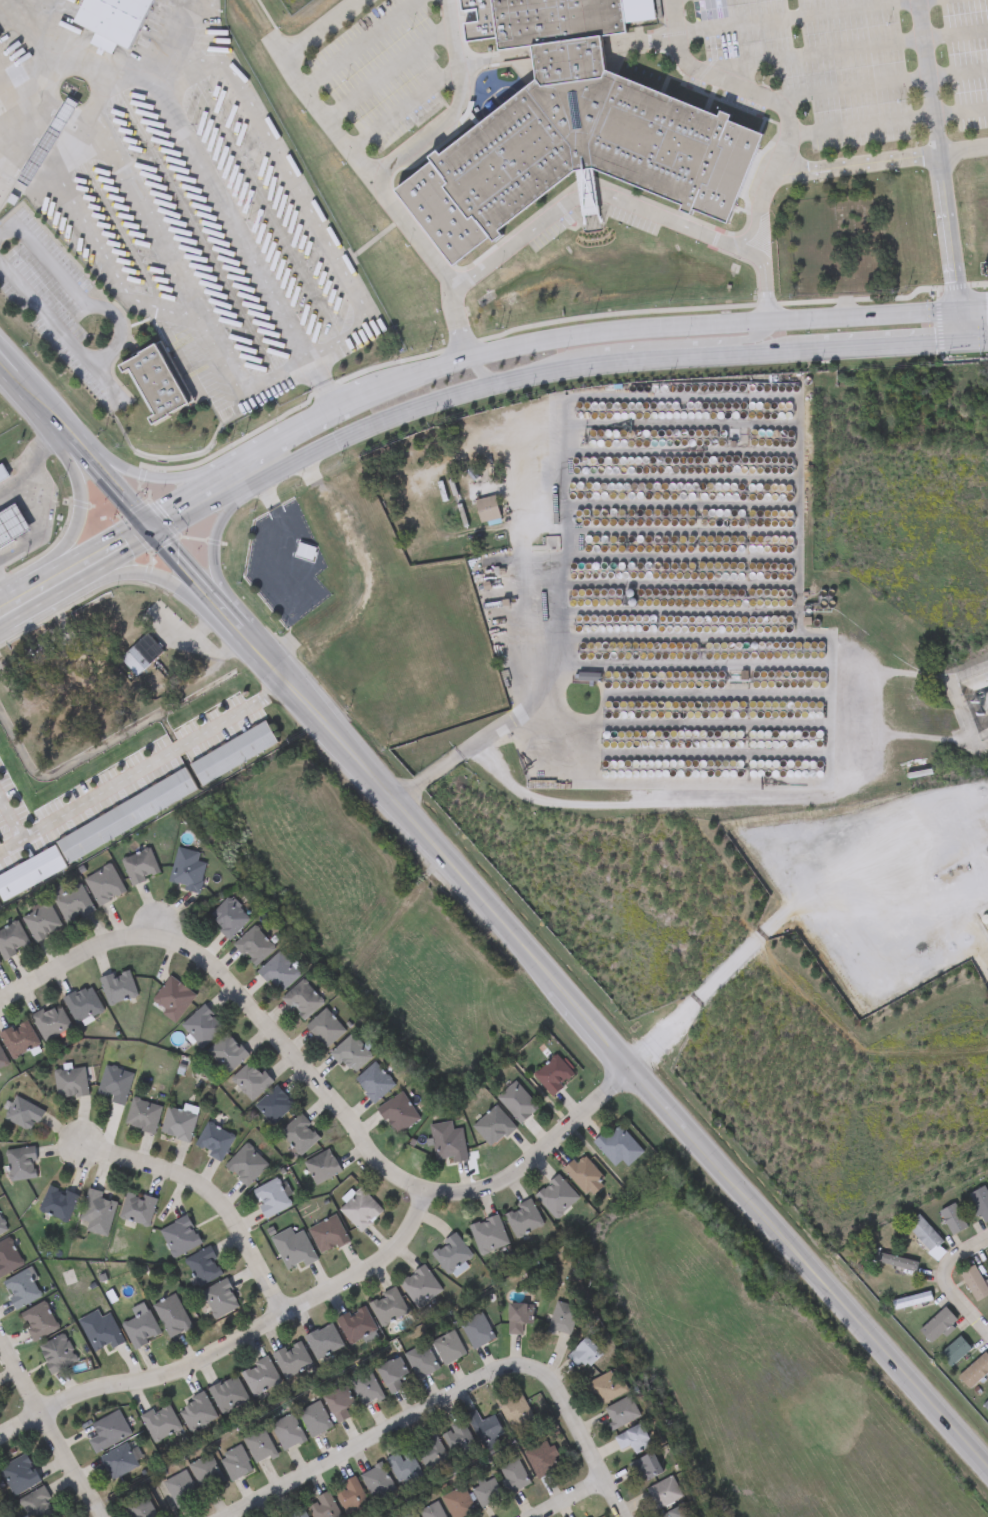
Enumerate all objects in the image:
road: (800, 15)
building: (112, 21)
road: (361, 44)
road: (844, 51)
building: (12, 66)
road: (387, 74)
road: (928, 75)
road: (734, 85)
road: (882, 85)
road: (452, 109)
road: (401, 110)
road: (887, 123)
building: (568, 128)
building: (48, 138)
road: (838, 161)
road: (355, 164)
road: (209, 177)
road: (598, 195)
road: (142, 209)
road: (949, 243)
park: (835, 244)
road: (766, 284)
traffic signals: (957, 302)
road: (726, 317)
road: (124, 337)
road: (974, 337)
traffic signals: (960, 338)
road: (751, 339)
road: (879, 341)
road: (758, 348)
road: (647, 356)
road: (289, 370)
road: (478, 370)
road: (314, 372)
road: (532, 375)
building: (154, 382)
road: (400, 384)
road: (327, 399)
road: (374, 423)
road: (294, 437)
road: (35, 468)
building: (3, 474)
road: (157, 474)
road: (213, 499)
building: (486, 509)
road: (75, 520)
building: (12, 528)
gas station: (12, 528)
road: (42, 529)
traffic signals: (160, 530)
road: (229, 540)
building: (305, 552)
road: (80, 575)
road: (158, 575)
road: (800, 604)
road: (4, 607)
building: (141, 655)
road: (526, 708)
building: (983, 725)
building: (233, 754)
road: (136, 771)
building: (140, 867)
building: (186, 870)
building: (104, 885)
building: (72, 903)
road: (788, 907)
road: (497, 910)
building: (229, 918)
building: (42, 923)
building: (12, 941)
building: (254, 946)
building: (278, 973)
building: (118, 988)
building: (173, 999)
building: (302, 1000)
building: (82, 1004)
building: (51, 1022)
building: (202, 1027)
building: (325, 1029)
building: (19, 1040)
building: (227, 1053)
building: (351, 1055)
building: (2, 1061)
building: (553, 1075)
building: (251, 1080)
building: (70, 1083)
building: (374, 1083)
building: (115, 1085)
road: (326, 1087)
building: (517, 1103)
building: (274, 1105)
building: (398, 1113)
building: (23, 1114)
building: (143, 1116)
building: (178, 1124)
building: (493, 1127)
building: (300, 1135)
building: (214, 1141)
building: (448, 1142)
building: (618, 1147)
building: (21, 1164)
building: (247, 1165)
building: (322, 1167)
building: (583, 1174)
road: (219, 1195)
building: (556, 1197)
building: (272, 1198)
building: (981, 1203)
building: (58, 1204)
building: (138, 1209)
building: (360, 1210)
building: (97, 1213)
building: (523, 1219)
building: (953, 1220)
building: (924, 1233)
building: (328, 1235)
building: (488, 1236)
building: (180, 1237)
building: (293, 1249)
road: (964, 1255)
building: (451, 1256)
building: (8, 1258)
building: (893, 1261)
building: (203, 1267)
building: (974, 1284)
building: (420, 1288)
building: (21, 1290)
building: (220, 1300)
building: (911, 1301)
building: (387, 1307)
road: (962, 1310)
building: (172, 1317)
building: (519, 1318)
building: (563, 1319)
building: (38, 1322)
building: (356, 1326)
building: (937, 1326)
building: (141, 1330)
building: (477, 1331)
building: (100, 1332)
building: (323, 1342)
road: (234, 1347)
building: (448, 1348)
building: (954, 1353)
building: (586, 1354)
building: (57, 1355)
building: (292, 1360)
building: (421, 1362)
building: (975, 1372)
building: (392, 1375)
building: (260, 1378)
building: (606, 1388)
building: (366, 1389)
building: (228, 1396)
building: (339, 1405)
building: (986, 1406)
building: (514, 1409)
building: (196, 1413)
building: (620, 1414)
building: (315, 1420)
building: (160, 1423)
road: (51, 1425)
building: (485, 1430)
building: (108, 1432)
building: (287, 1432)
road: (575, 1434)
road: (374, 1439)
building: (633, 1440)
building: (459, 1442)
building: (259, 1447)
building: (432, 1456)
building: (543, 1460)
building: (119, 1462)
building: (235, 1463)
building: (648, 1468)
building: (405, 1469)
building: (206, 1473)
building: (18, 1476)
building: (514, 1476)
building: (377, 1483)
building: (180, 1489)
building: (487, 1493)
building: (664, 1493)
building: (353, 1498)
road: (569, 1499)
building: (459, 1503)
building: (37, 1505)
building: (139, 1507)
building: (324, 1507)
building: (432, 1511)
building: (677, 1512)
building: (296, 1513)
building: (407, 1516)

